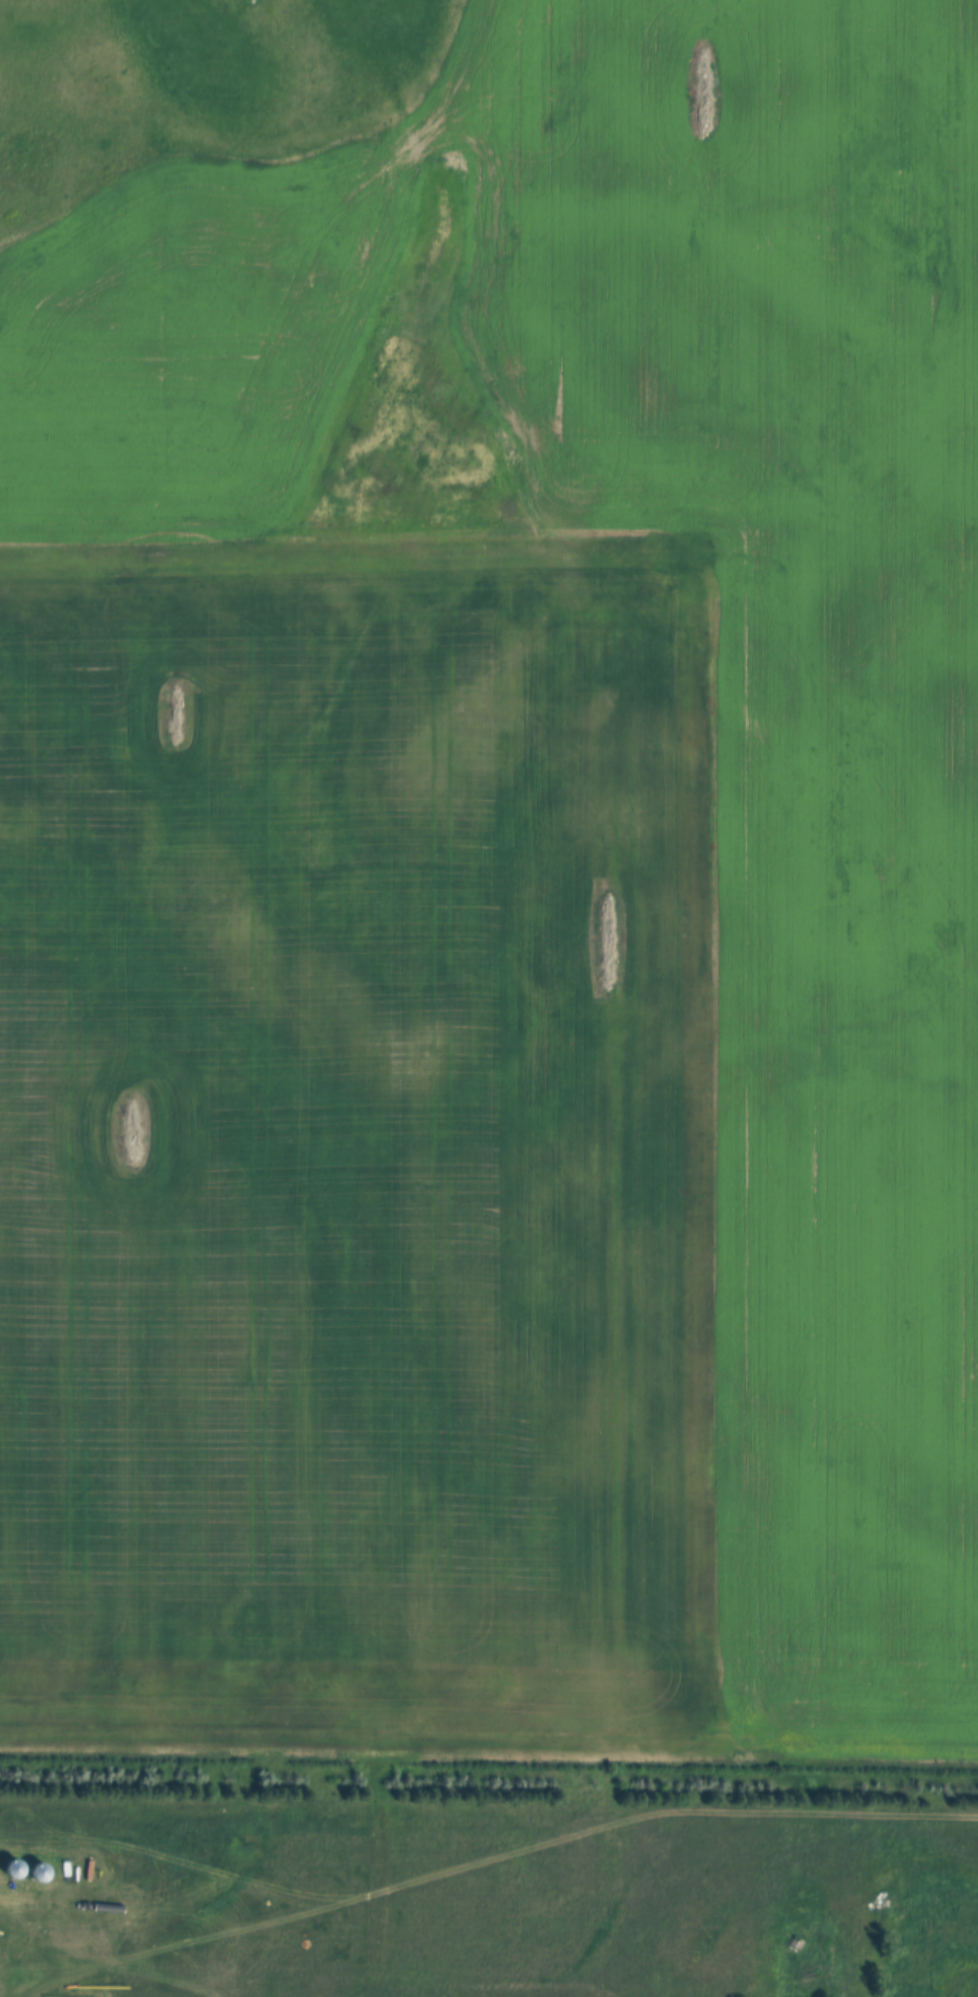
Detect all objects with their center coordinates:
building: (10, 1869)
building: (36, 1873)

